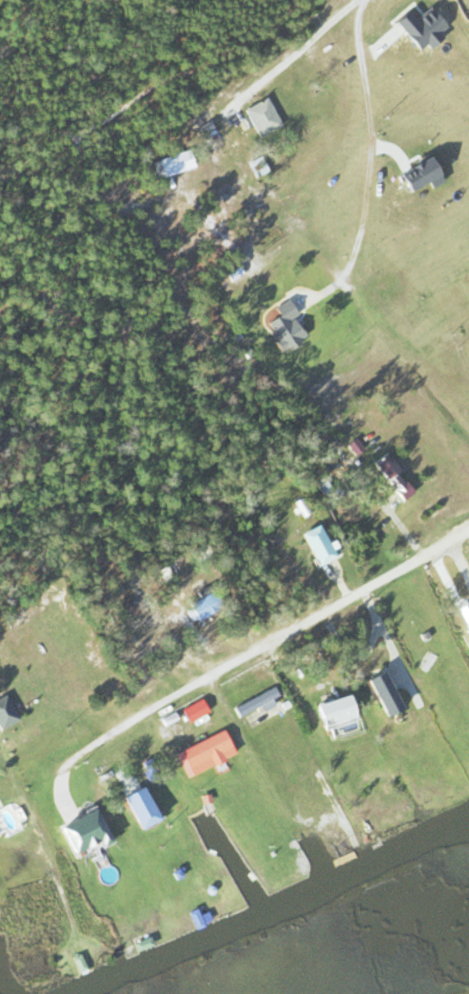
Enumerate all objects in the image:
road: (296, 49)
building: (261, 116)
building: (174, 162)
building: (284, 326)
building: (391, 476)
road: (370, 568)
building: (202, 605)
building: (465, 613)
building: (146, 621)
building: (380, 692)
building: (255, 701)
building: (332, 711)
building: (205, 752)
building: (80, 832)

